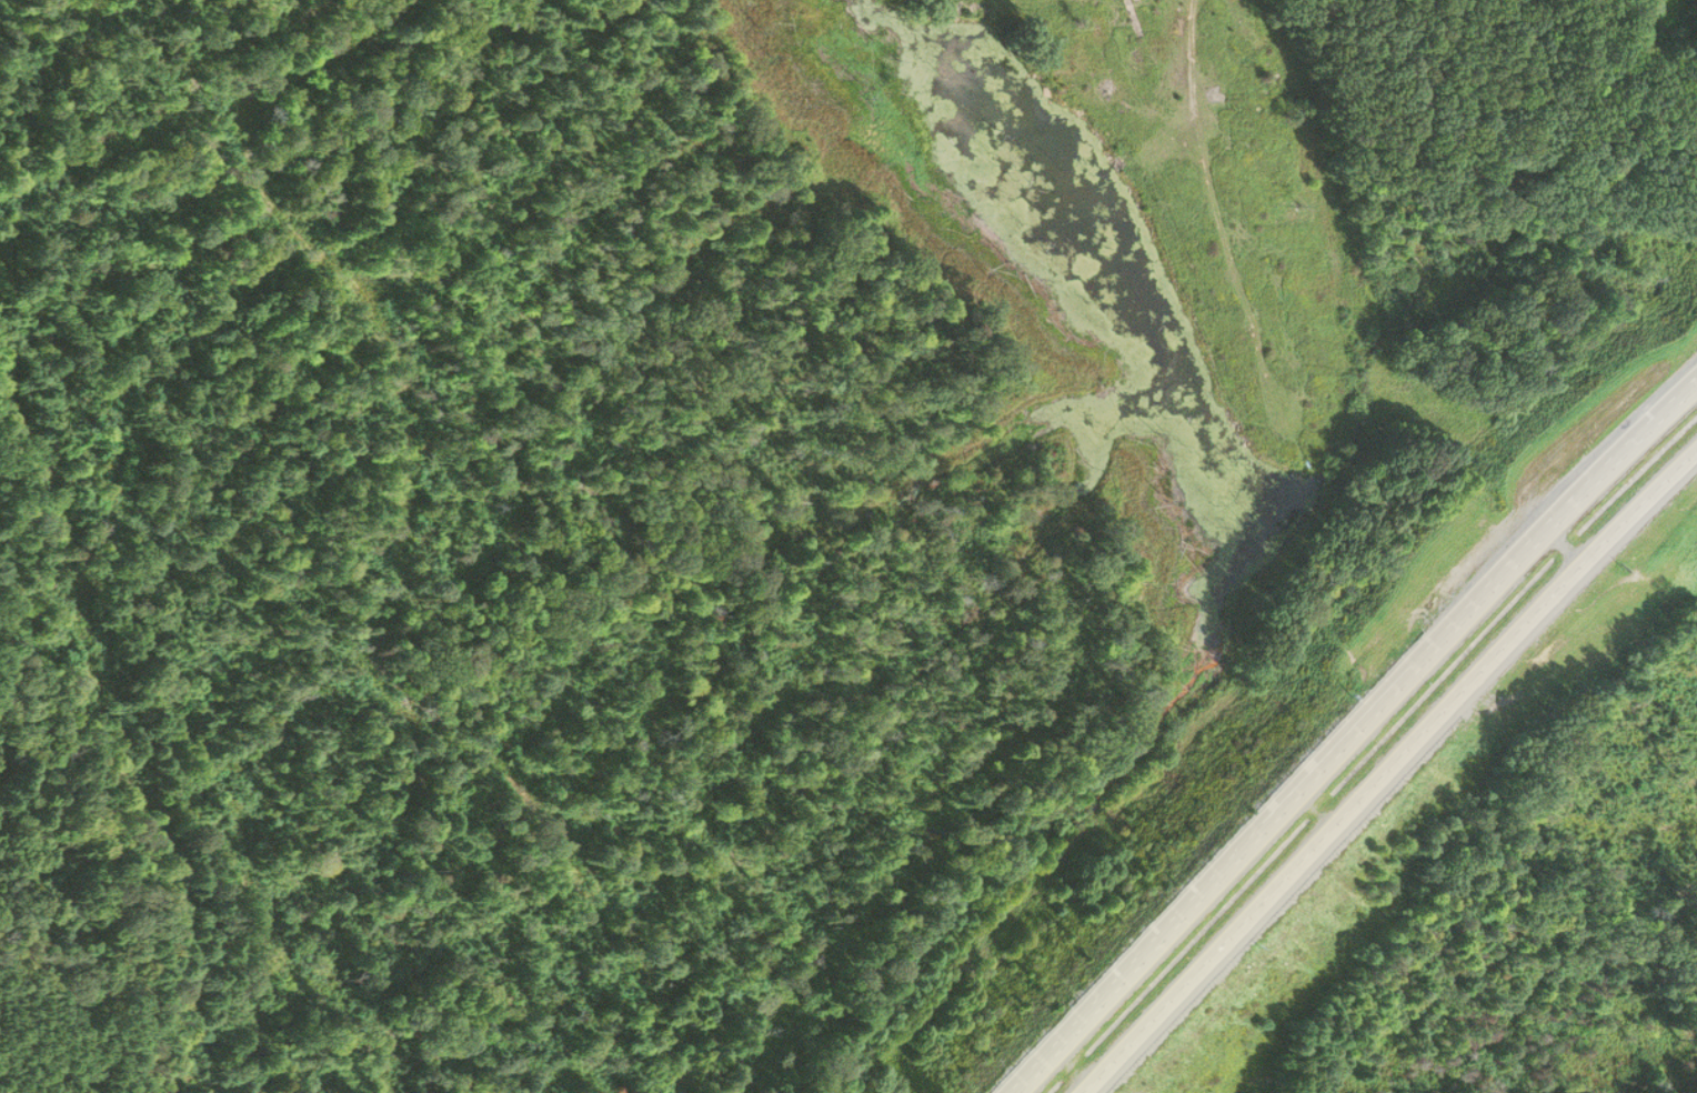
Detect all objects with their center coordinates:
road: (1209, 191)
road: (1345, 731)
road: (1388, 769)

